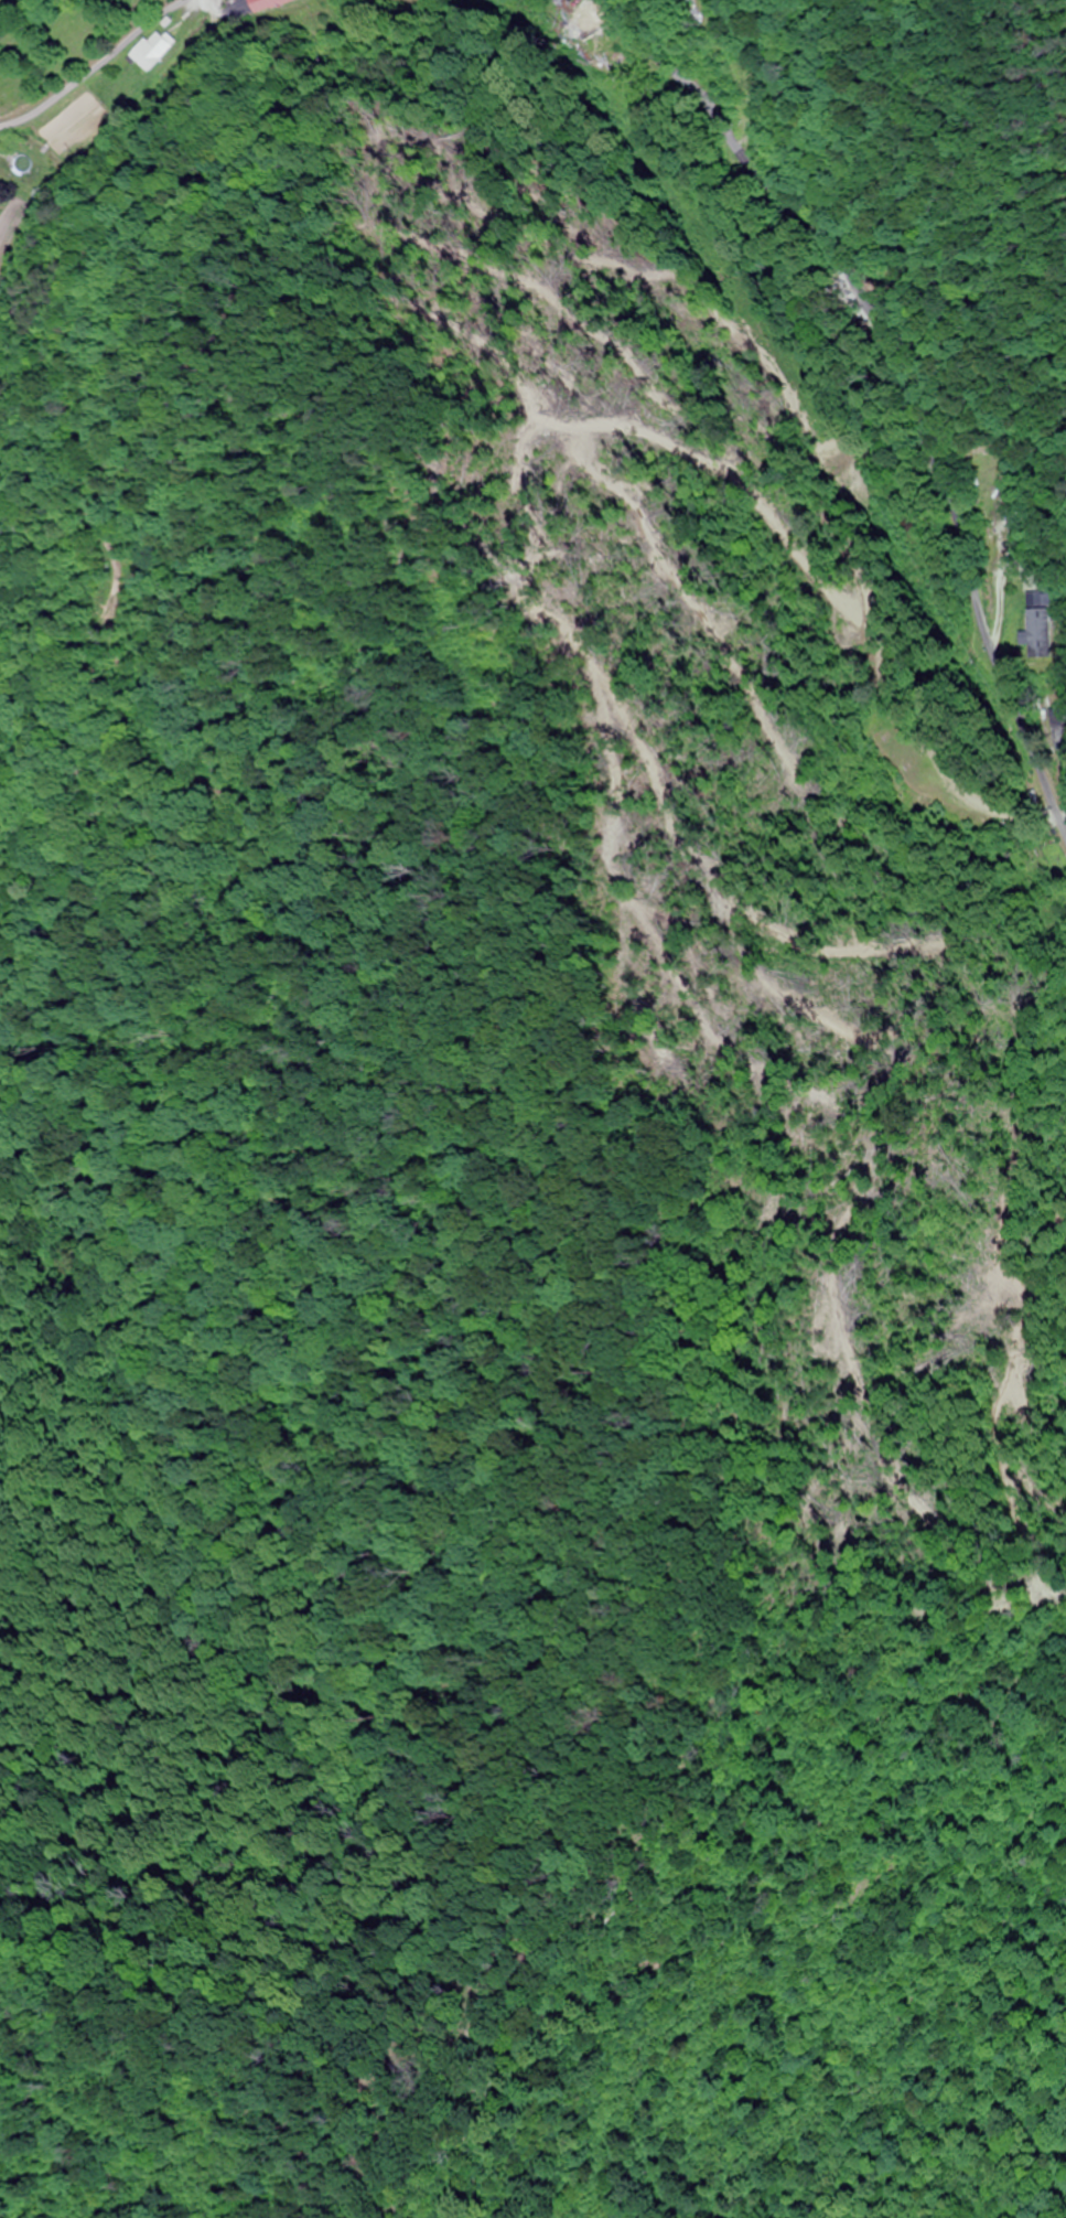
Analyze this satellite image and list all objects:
building: (269, 4)
building: (600, 26)
building: (154, 51)
road: (99, 68)
road: (926, 378)
building: (1042, 598)
building: (1045, 634)
road: (142, 1941)

